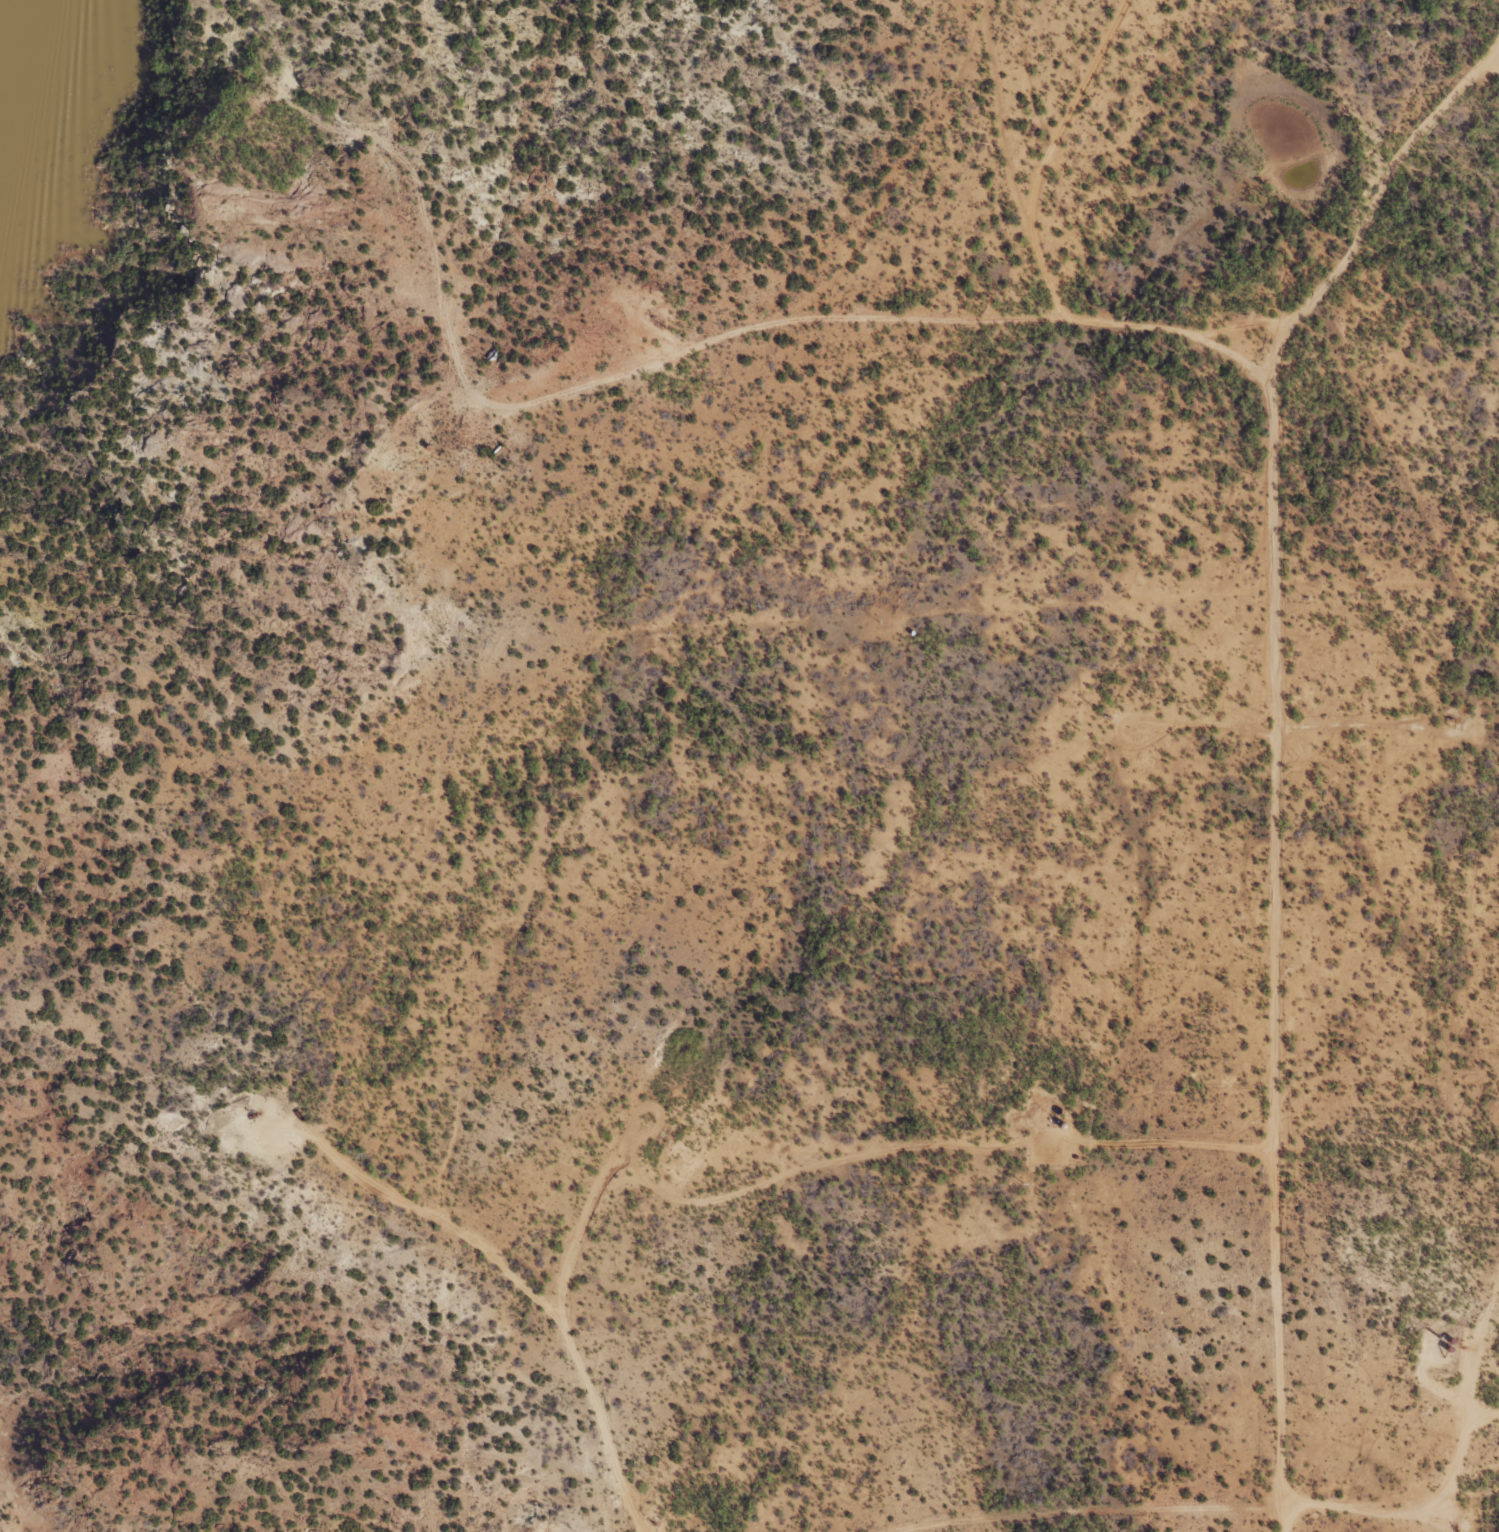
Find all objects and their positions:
road: (1489, 132)
road: (1019, 177)
road: (890, 181)
road: (681, 336)
road: (684, 547)
road: (1263, 787)
road: (1075, 1020)
road: (1064, 1154)
road: (993, 1181)
road: (1478, 1408)
road: (1459, 1419)
road: (1478, 1423)

